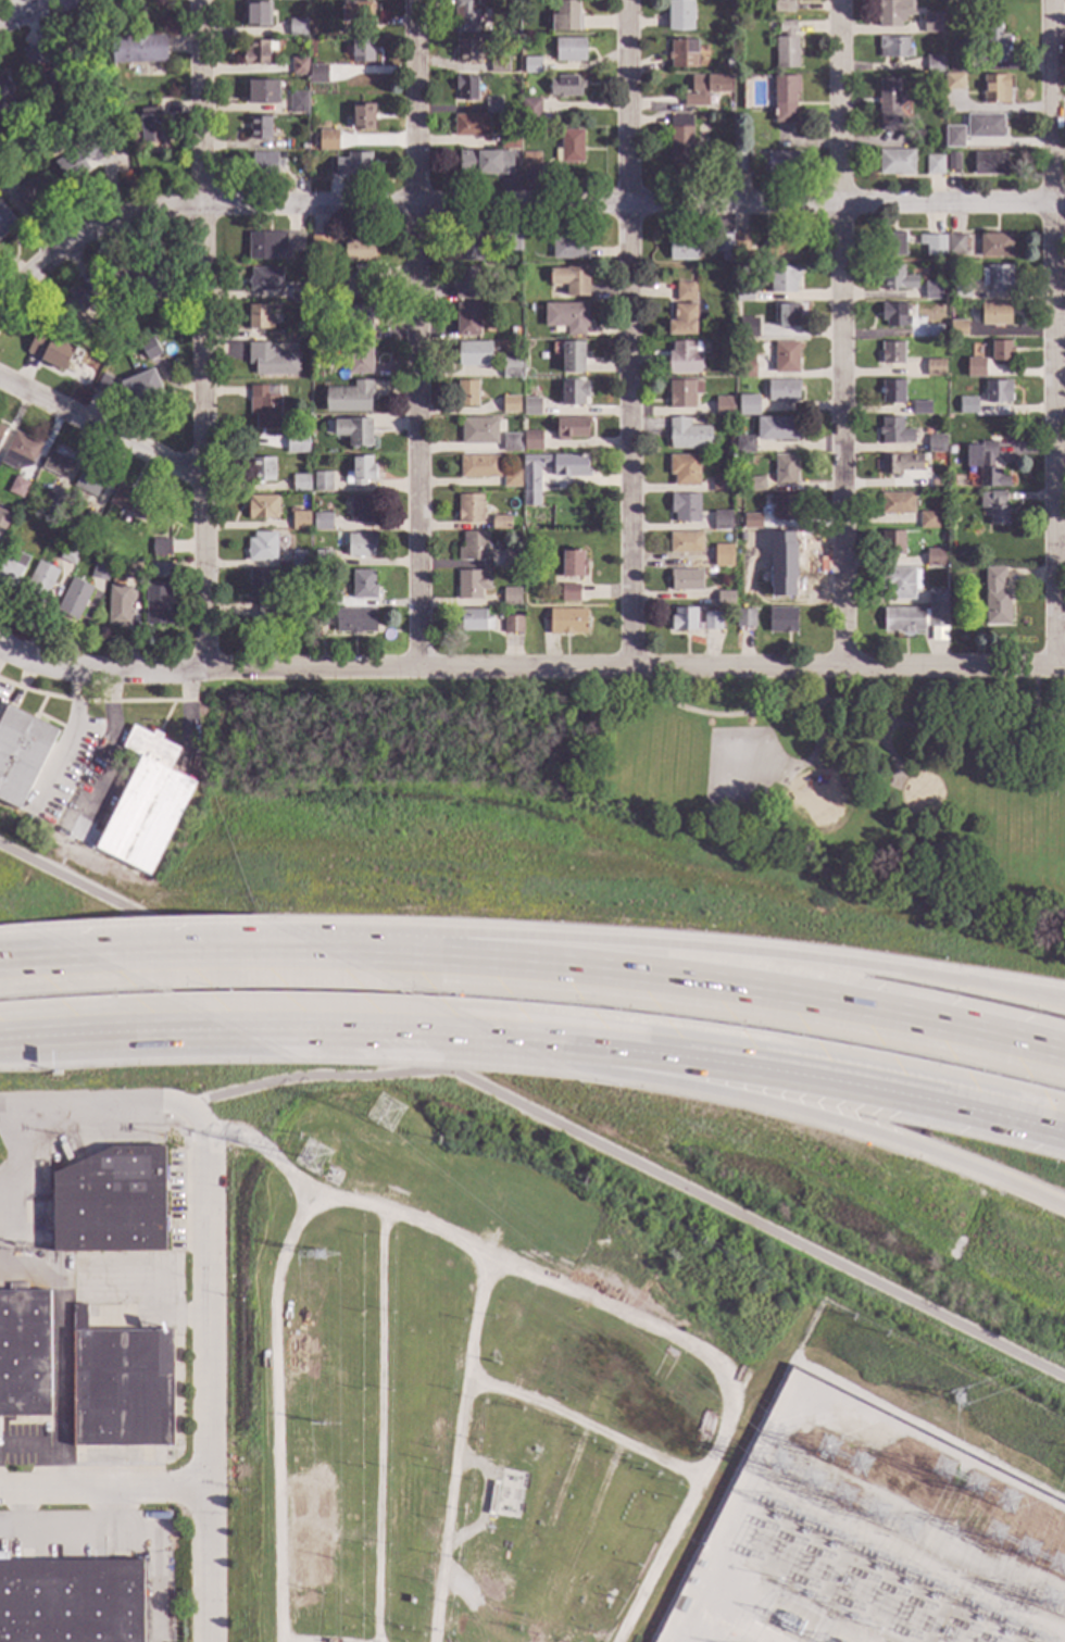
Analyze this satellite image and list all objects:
building: (512, 4)
building: (784, 7)
road: (11, 9)
road: (29, 12)
building: (256, 12)
building: (892, 12)
building: (359, 13)
building: (566, 15)
building: (679, 15)
building: (464, 17)
building: (931, 23)
building: (297, 27)
building: (938, 40)
building: (995, 42)
building: (786, 46)
building: (361, 47)
building: (893, 48)
building: (138, 49)
building: (569, 49)
building: (467, 50)
building: (256, 52)
building: (684, 52)
building: (957, 55)
building: (51, 63)
building: (702, 63)
building: (499, 64)
building: (934, 64)
building: (531, 65)
building: (298, 66)
building: (317, 73)
building: (953, 82)
building: (564, 86)
building: (466, 87)
building: (705, 88)
building: (997, 89)
building: (263, 91)
building: (4, 93)
building: (784, 98)
building: (298, 101)
building: (492, 104)
building: (889, 104)
building: (530, 110)
building: (363, 116)
building: (701, 117)
building: (471, 125)
building: (985, 126)
building: (149, 127)
building: (260, 127)
building: (769, 133)
building: (953, 136)
building: (509, 139)
building: (328, 140)
building: (680, 141)
building: (301, 147)
building: (569, 147)
building: (80, 158)
building: (530, 161)
building: (739, 161)
building: (781, 161)
building: (952, 161)
building: (486, 162)
building: (895, 162)
building: (263, 163)
building: (989, 163)
building: (351, 164)
building: (934, 164)
building: (2, 186)
building: (28, 193)
road: (515, 203)
building: (5, 221)
building: (293, 236)
building: (740, 241)
building: (513, 242)
building: (892, 243)
building: (932, 243)
building: (955, 243)
building: (318, 245)
building: (723, 245)
building: (994, 245)
building: (265, 246)
building: (569, 246)
building: (468, 247)
building: (681, 249)
building: (782, 249)
building: (358, 250)
building: (136, 276)
building: (895, 277)
building: (784, 278)
building: (997, 278)
building: (264, 279)
building: (571, 279)
building: (353, 283)
building: (465, 283)
building: (699, 285)
building: (961, 289)
building: (932, 290)
building: (685, 291)
building: (299, 293)
building: (744, 294)
building: (75, 301)
building: (995, 313)
building: (894, 314)
building: (787, 315)
building: (260, 317)
building: (567, 317)
building: (466, 318)
building: (359, 319)
building: (682, 321)
building: (748, 327)
building: (958, 328)
building: (932, 330)
road: (416, 331)
road: (1055, 333)
road: (629, 334)
road: (842, 334)
road: (200, 335)
building: (149, 348)
building: (49, 351)
building: (1002, 351)
building: (475, 352)
building: (892, 352)
building: (356, 355)
building: (573, 356)
building: (684, 358)
building: (786, 358)
building: (271, 360)
building: (745, 366)
building: (512, 367)
building: (935, 367)
building: (975, 367)
building: (104, 385)
building: (140, 388)
building: (784, 389)
building: (892, 391)
building: (998, 391)
building: (466, 392)
building: (573, 392)
building: (682, 393)
building: (350, 398)
building: (510, 404)
building: (967, 404)
building: (264, 405)
building: (724, 405)
building: (749, 405)
building: (531, 406)
building: (919, 409)
road: (100, 425)
building: (1, 428)
building: (572, 428)
building: (777, 428)
building: (354, 430)
building: (478, 431)
building: (894, 431)
building: (688, 435)
building: (991, 437)
building: (532, 439)
building: (511, 442)
building: (297, 443)
building: (936, 443)
building: (744, 444)
building: (18, 452)
building: (709, 456)
building: (900, 463)
building: (57, 464)
building: (986, 464)
building: (479, 466)
building: (262, 469)
building: (685, 469)
building: (360, 471)
building: (785, 471)
building: (512, 478)
building: (89, 481)
building: (322, 481)
building: (300, 482)
building: (530, 484)
building: (722, 484)
building: (754, 484)
building: (17, 488)
building: (129, 502)
building: (897, 502)
building: (53, 505)
building: (262, 506)
building: (994, 506)
building: (471, 507)
building: (685, 507)
building: (785, 507)
building: (362, 509)
building: (3, 518)
building: (927, 519)
building: (89, 521)
building: (301, 521)
building: (751, 521)
building: (322, 522)
building: (500, 523)
building: (723, 523)
building: (742, 536)
building: (686, 542)
building: (892, 542)
building: (361, 544)
building: (473, 546)
building: (161, 547)
building: (262, 547)
building: (784, 552)
building: (1, 553)
building: (70, 553)
building: (725, 556)
building: (300, 557)
building: (323, 557)
building: (936, 557)
building: (511, 559)
building: (572, 563)
building: (12, 569)
building: (100, 571)
building: (131, 571)
building: (710, 573)
building: (686, 578)
building: (900, 581)
building: (39, 582)
building: (363, 584)
building: (471, 584)
building: (258, 585)
building: (571, 592)
building: (159, 594)
building: (511, 596)
building: (937, 596)
building: (997, 597)
building: (726, 598)
building: (74, 599)
building: (331, 599)
building: (118, 605)
building: (272, 607)
building: (937, 615)
building: (321, 616)
building: (744, 617)
building: (903, 618)
building: (684, 619)
building: (781, 619)
building: (355, 621)
building: (474, 621)
building: (568, 621)
building: (712, 621)
building: (513, 624)
road: (1, 650)
road: (634, 666)
road: (99, 670)
road: (1032, 698)
road: (847, 704)
road: (813, 732)
road: (67, 737)
road: (848, 739)
building: (21, 752)
road: (111, 752)
road: (887, 753)
park: (724, 768)
park: (738, 769)
building: (145, 803)
road: (369, 952)
road: (741, 953)
road: (190, 954)
road: (28, 960)
road: (742, 989)
road: (340, 1030)
road: (133, 1032)
road: (22, 1038)
road: (531, 1042)
road: (314, 1077)
road: (837, 1083)
road: (105, 1102)
road: (532, 1112)
power tower: (388, 1115)
road: (838, 1127)
power tower: (316, 1163)
building: (110, 1202)
power tower: (316, 1255)
road: (600, 1302)
building: (24, 1354)
road: (204, 1384)
building: (121, 1386)
road: (276, 1412)
power tower: (323, 1424)
road: (584, 1424)
road: (383, 1425)
power tower: (835, 1442)
road: (455, 1449)
road: (46, 1452)
road: (101, 1492)
power substation: (881, 1502)
power tower: (1005, 1505)
road: (22, 1509)
road: (73, 1528)
building: (3, 1557)
building: (71, 1602)
road: (314, 1641)

